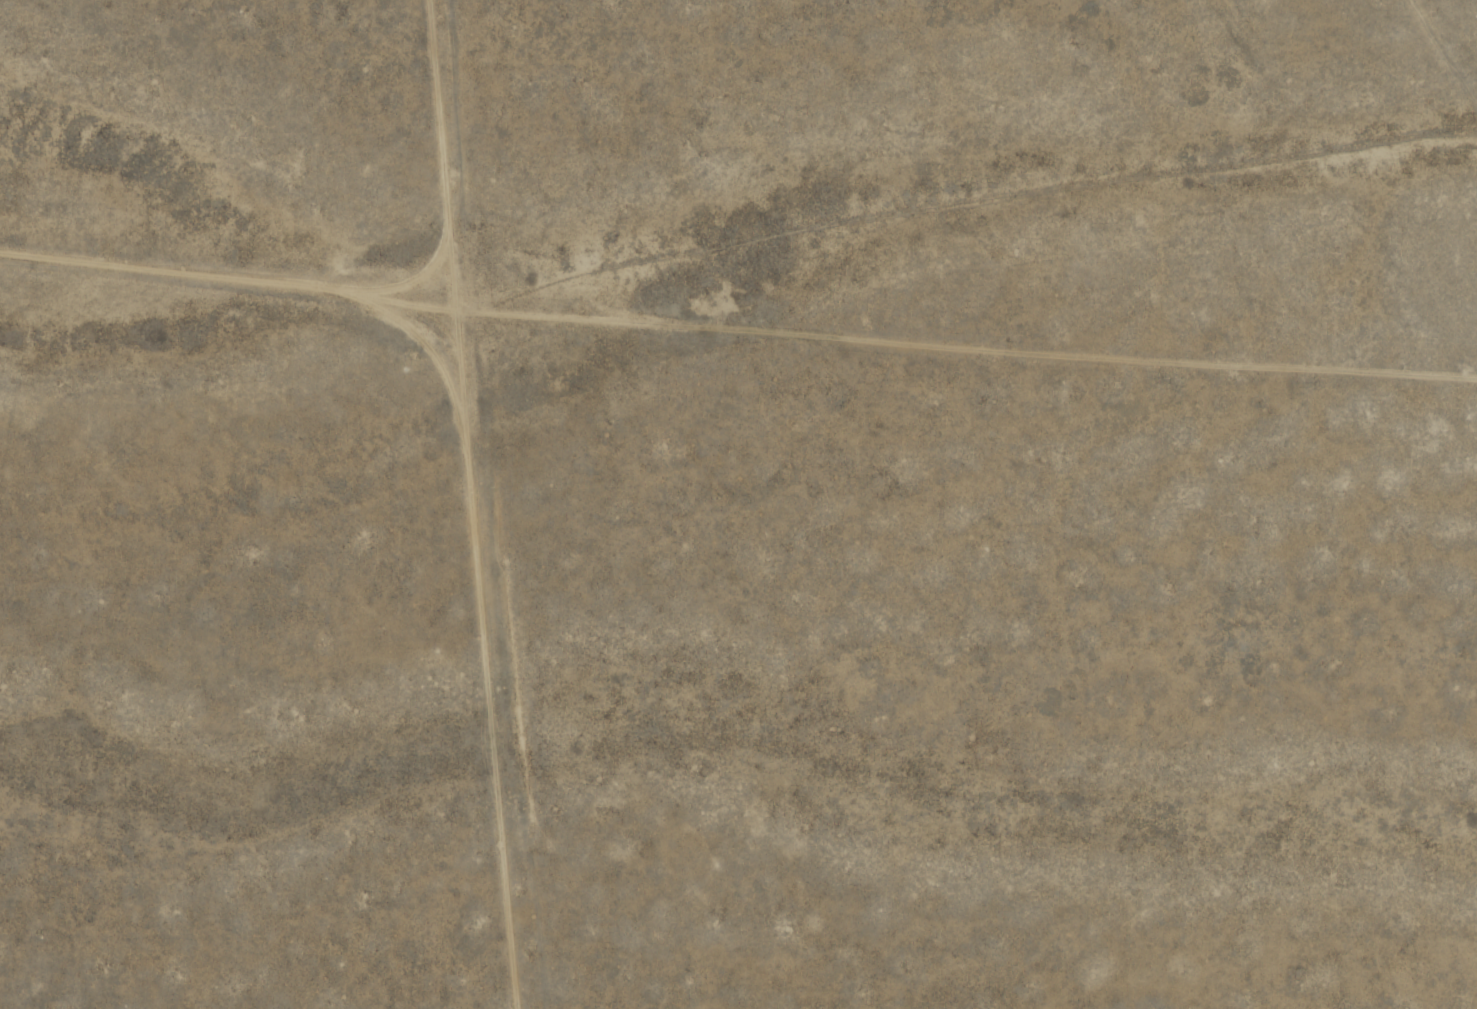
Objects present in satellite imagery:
road: (738, 280)
road: (443, 504)

